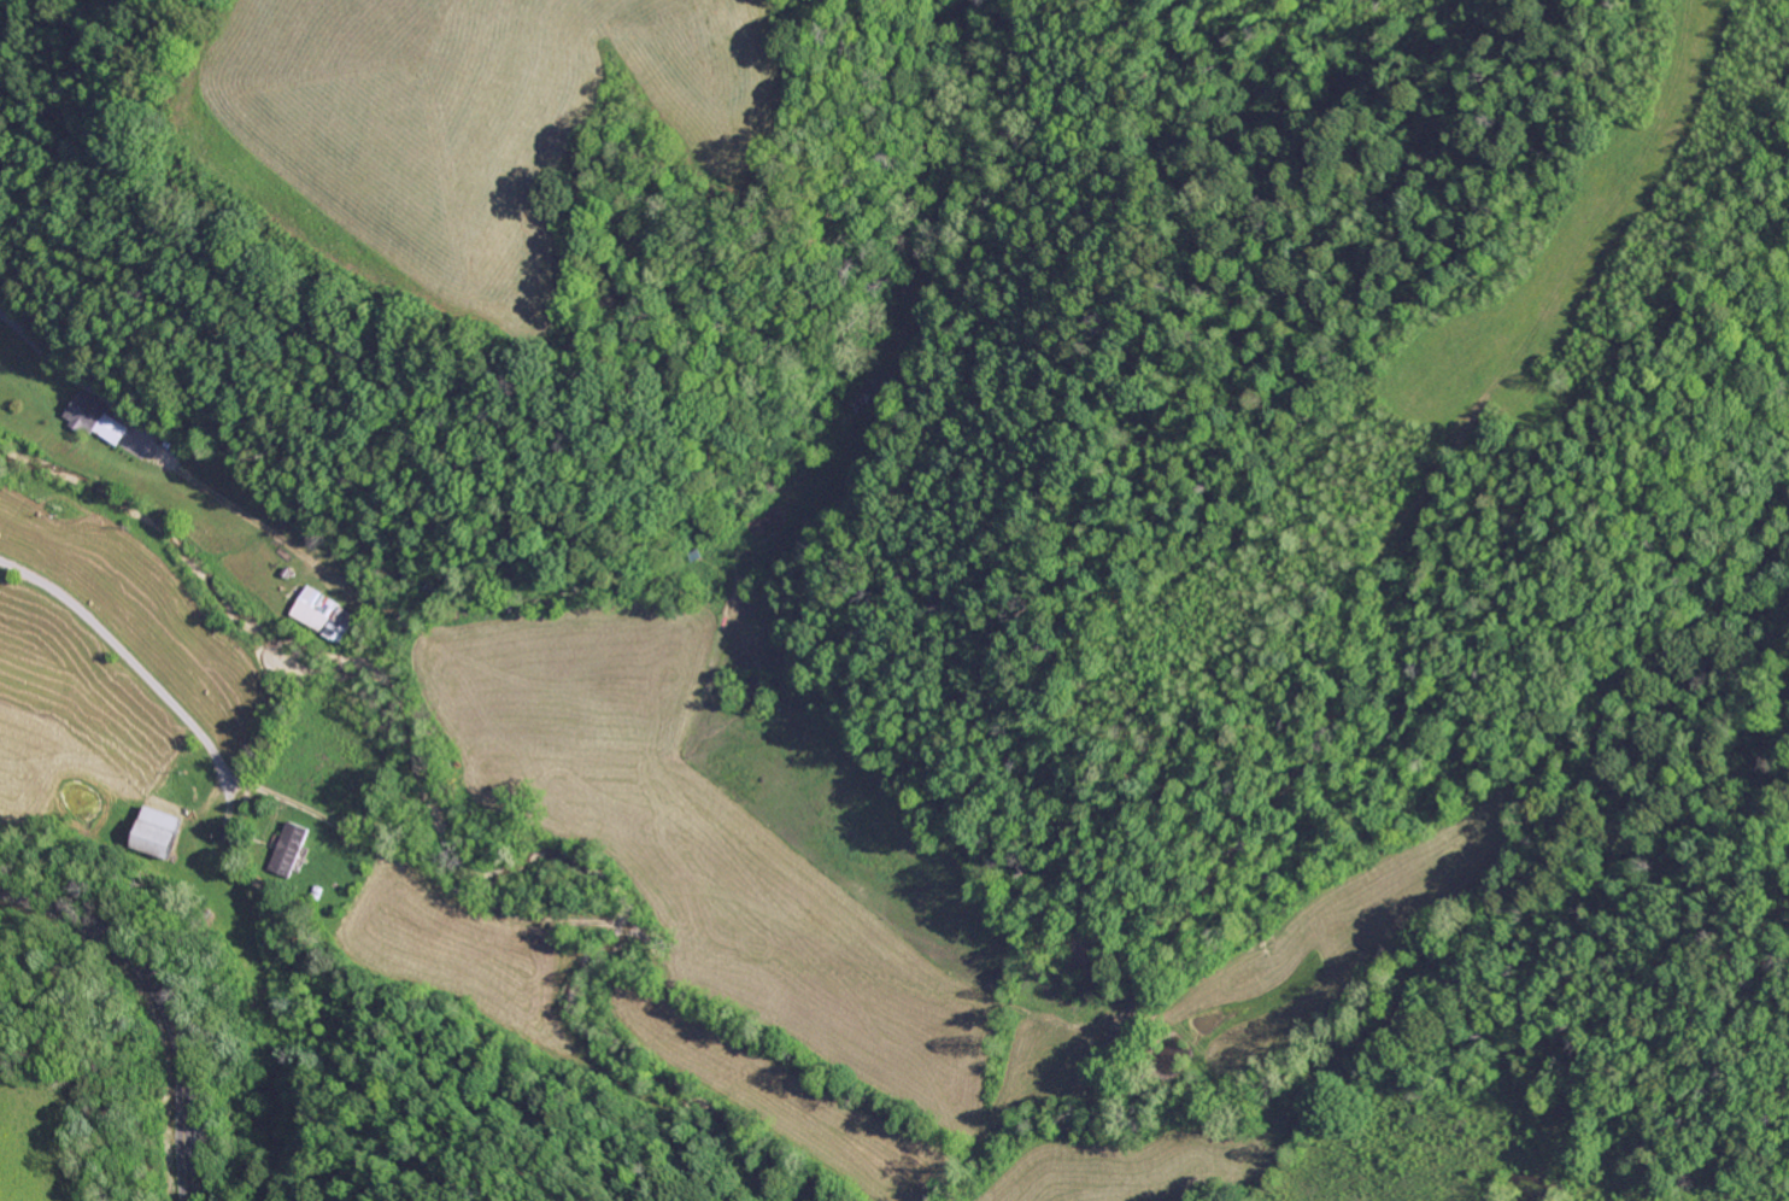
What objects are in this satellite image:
building: (96, 420)
building: (325, 615)
road: (137, 666)
building: (156, 833)
building: (289, 850)
road: (164, 1002)

